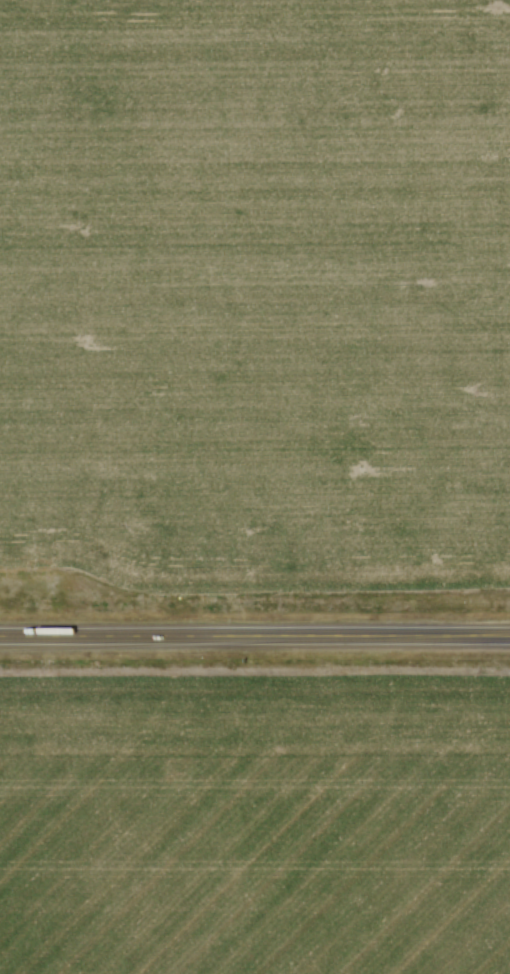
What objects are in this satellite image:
road: (255, 635)

